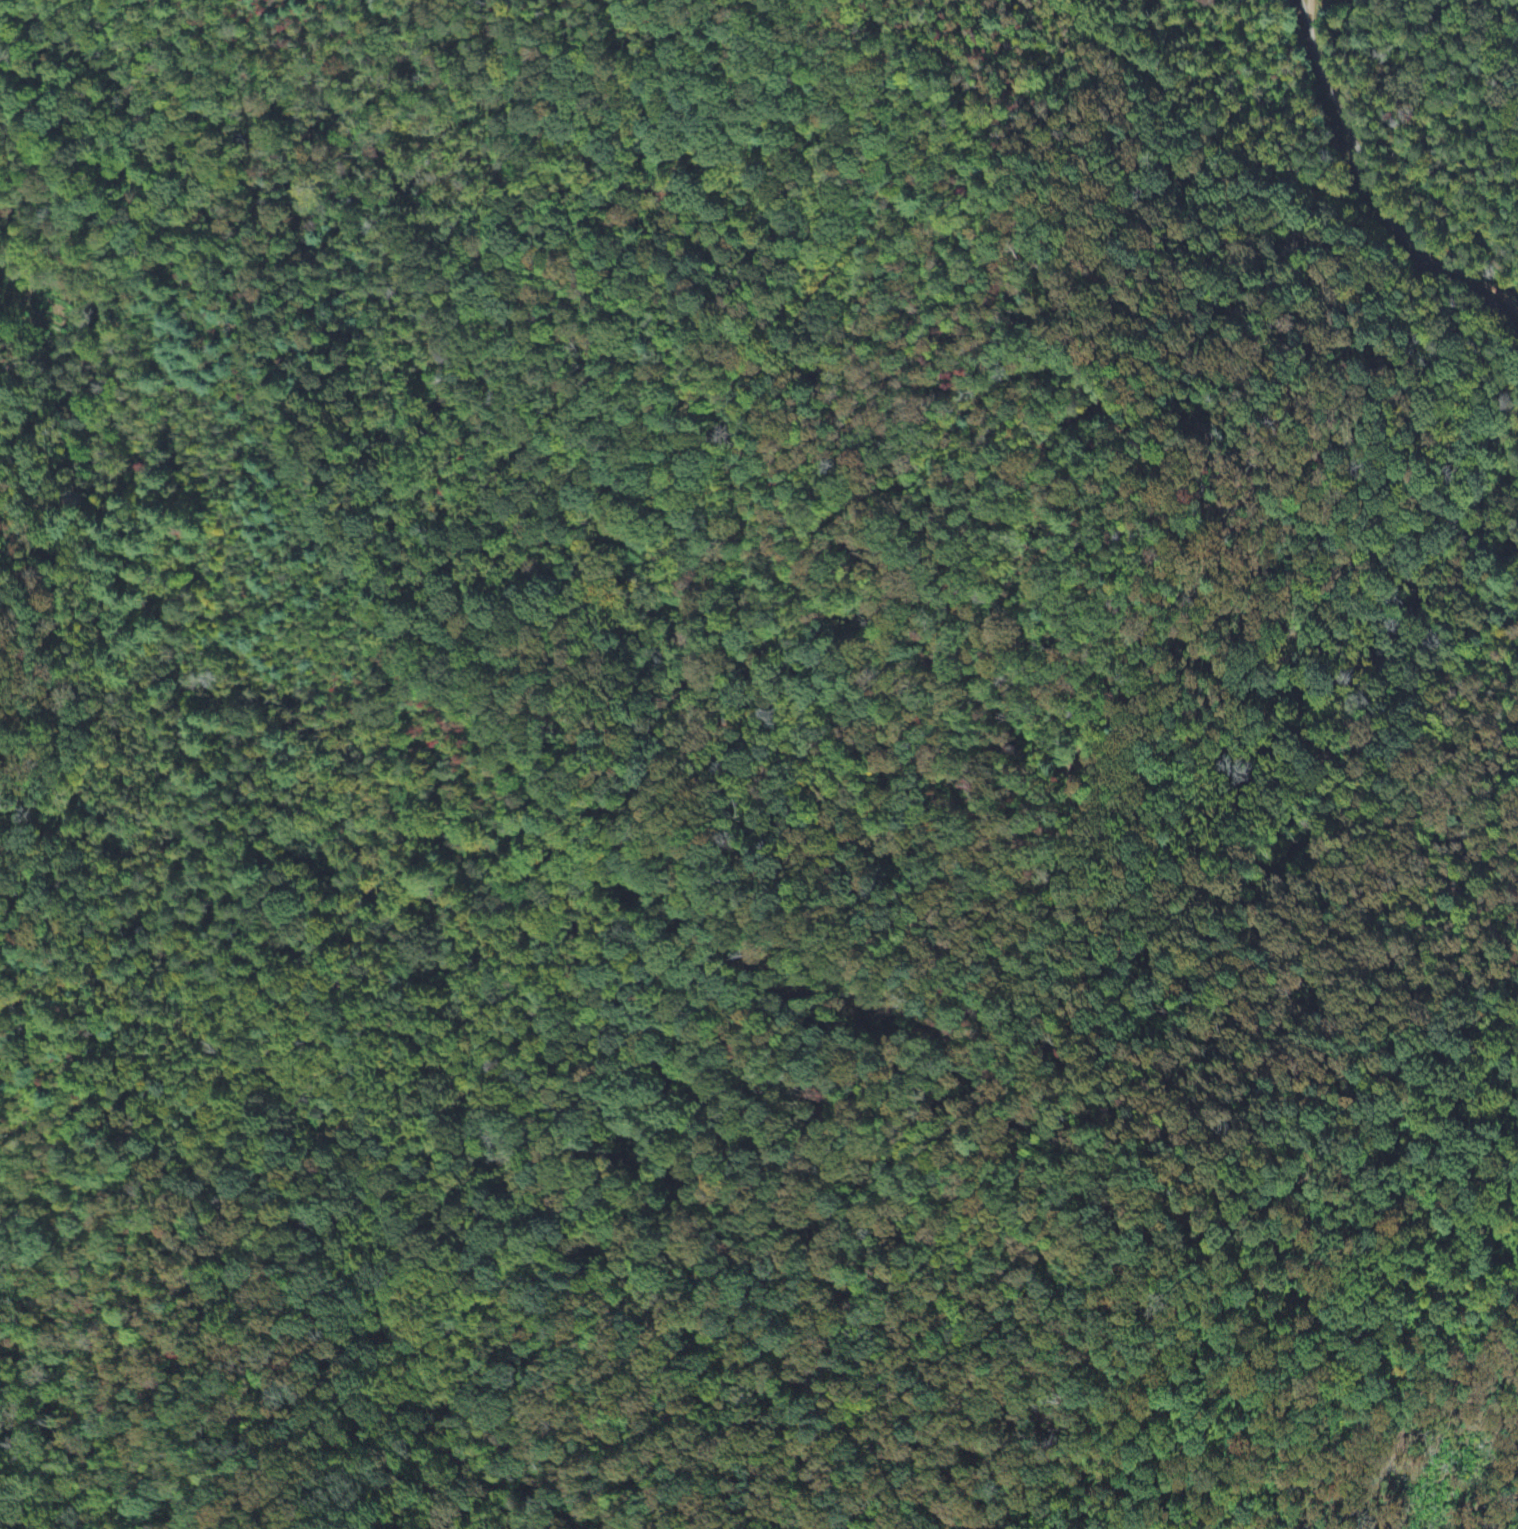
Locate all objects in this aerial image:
road: (1370, 183)

